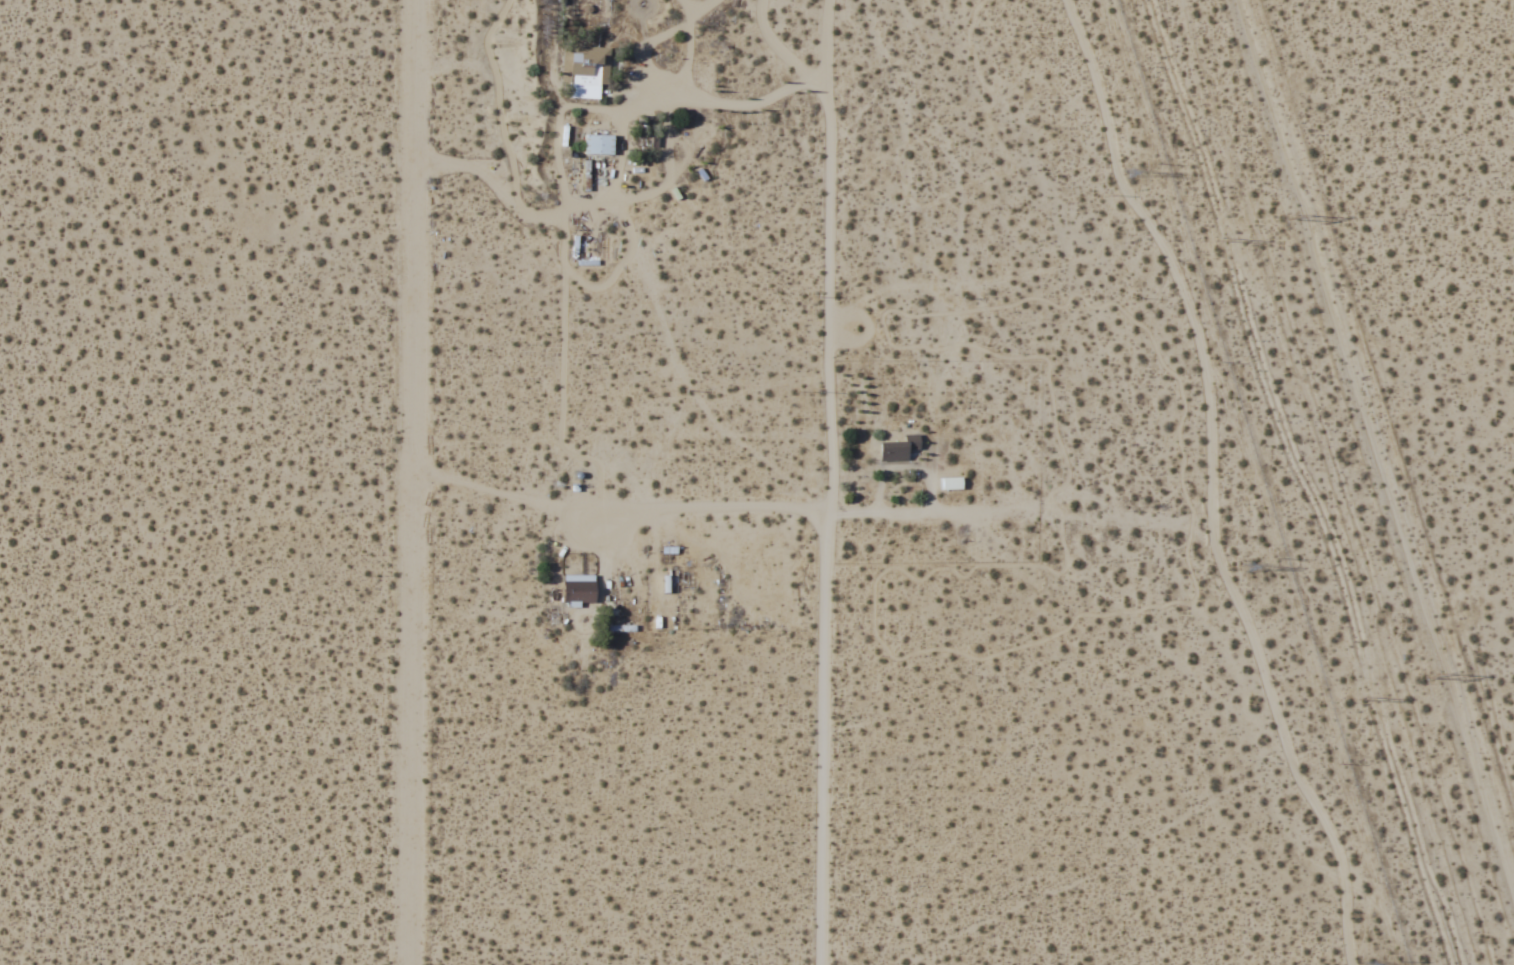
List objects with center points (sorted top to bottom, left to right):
building: (583, 71)
building: (598, 144)
power tower: (1132, 171)
power tower: (1288, 219)
power tower: (1236, 236)
building: (899, 449)
road: (1371, 455)
power tower: (1255, 568)
building: (579, 588)
power tower: (1430, 678)
power tower: (1375, 690)
road: (823, 740)

